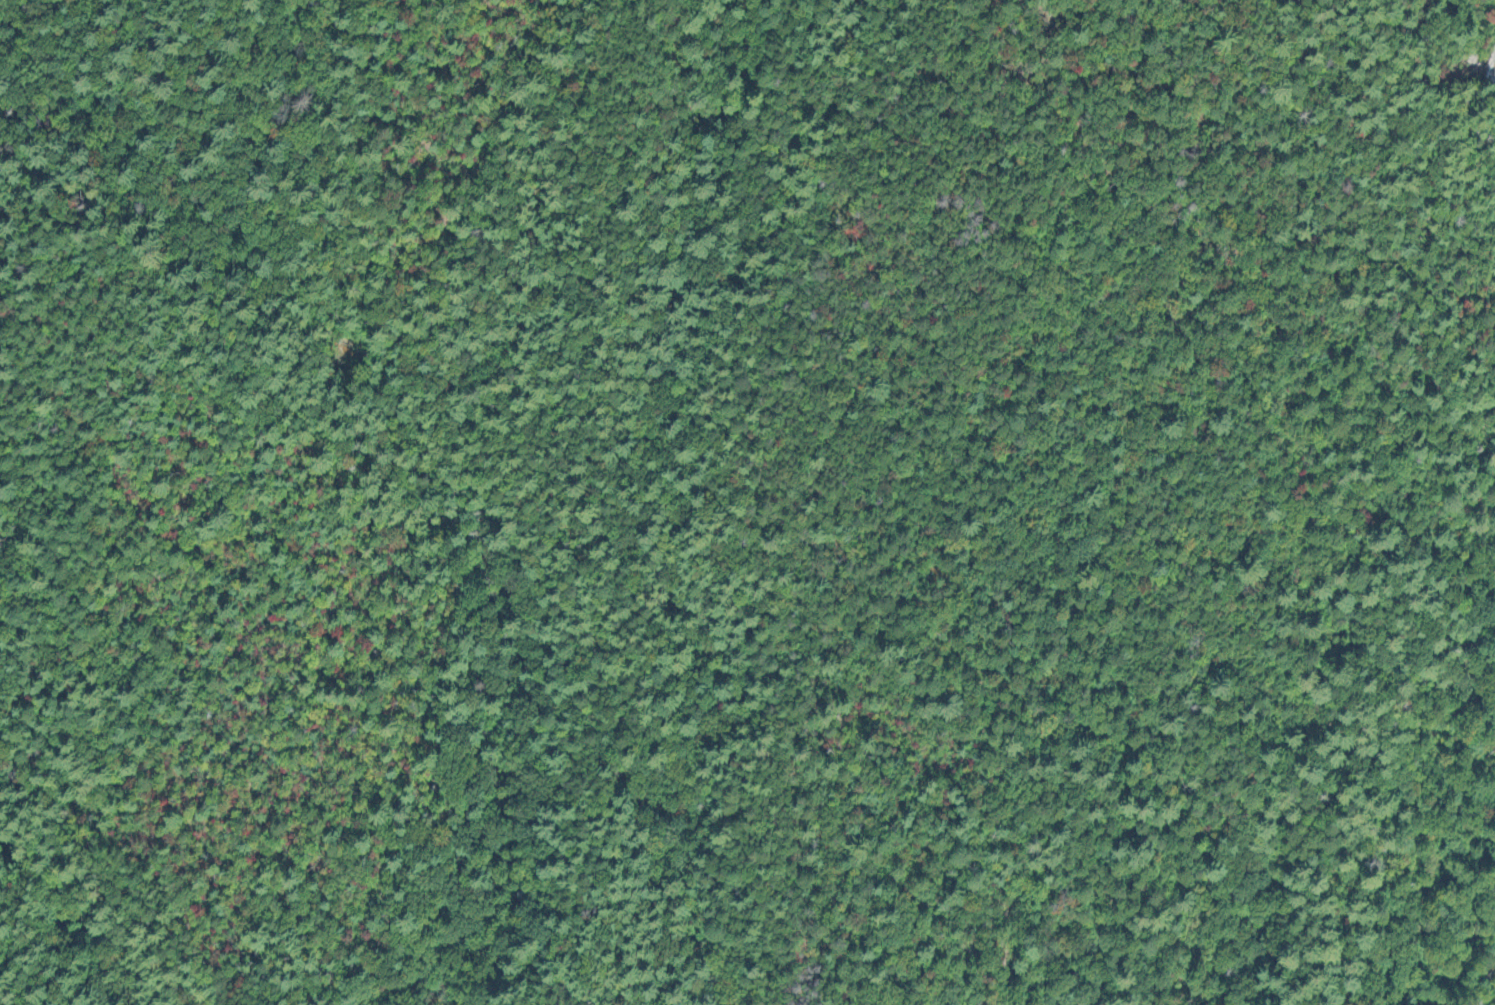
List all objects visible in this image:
river: (1485, 44)
road: (1230, 247)

